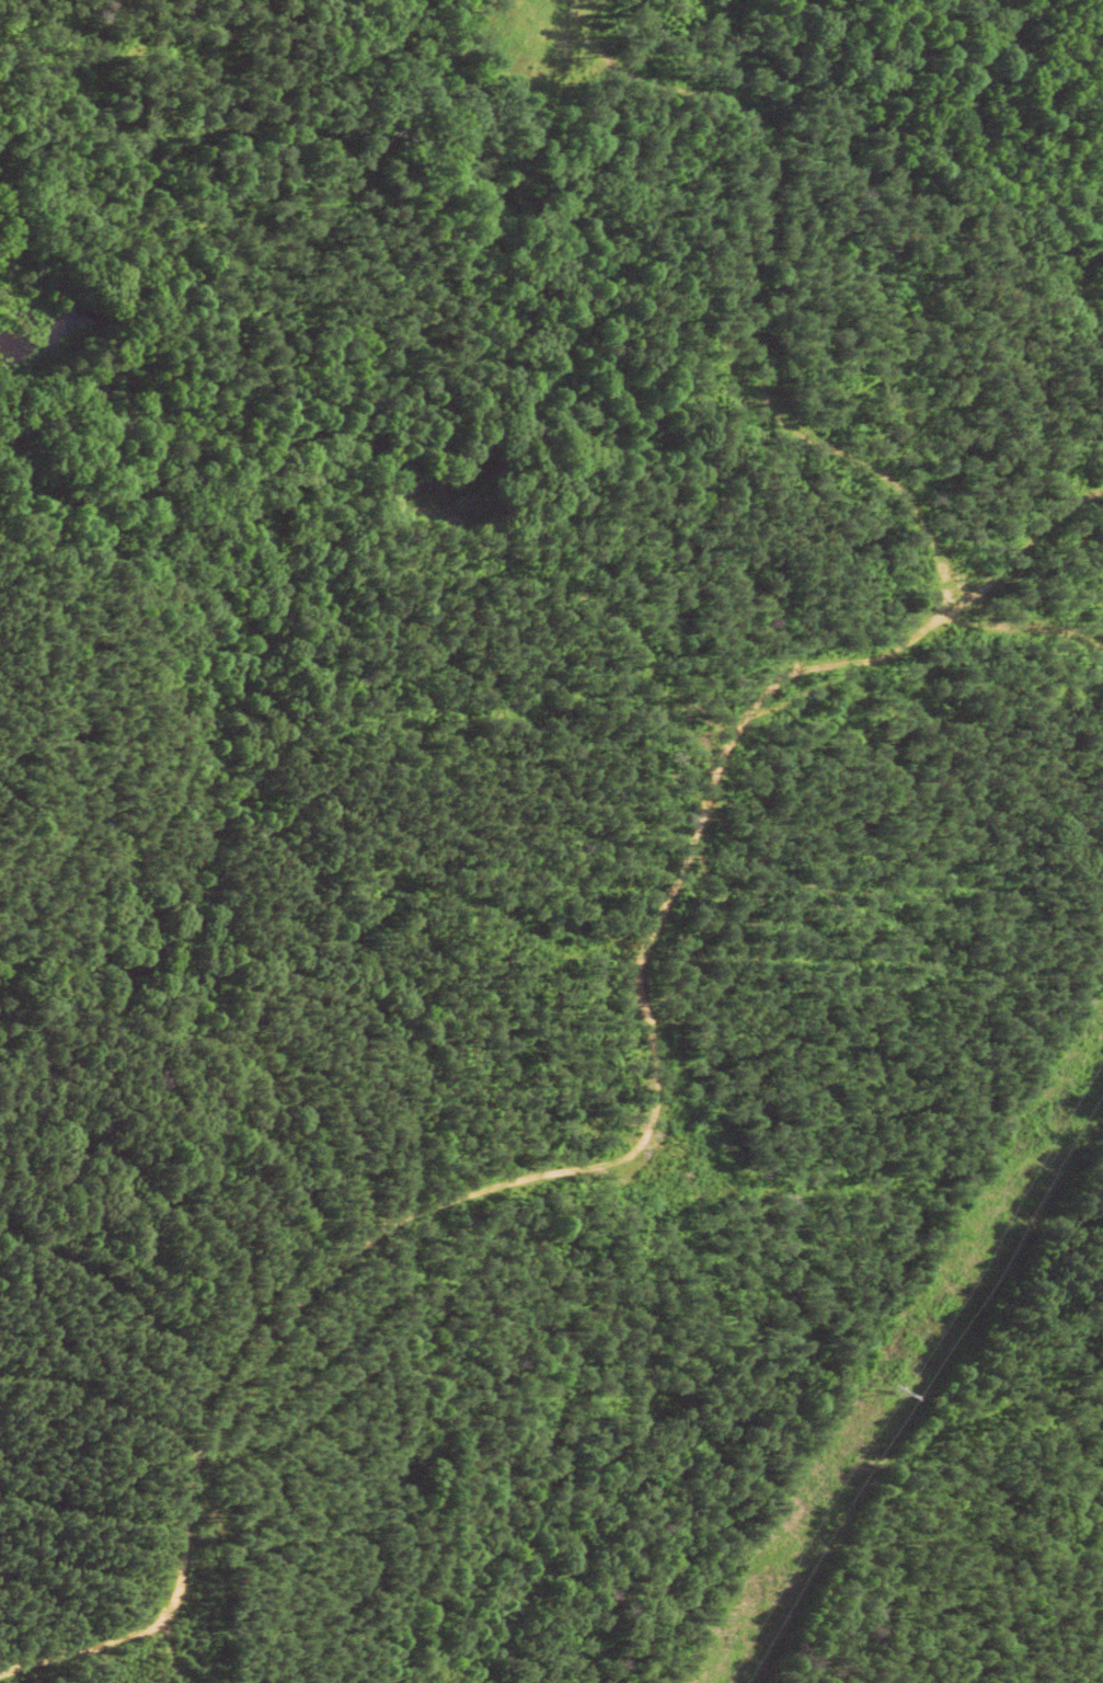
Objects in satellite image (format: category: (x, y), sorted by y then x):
power tower: (893, 1394)

